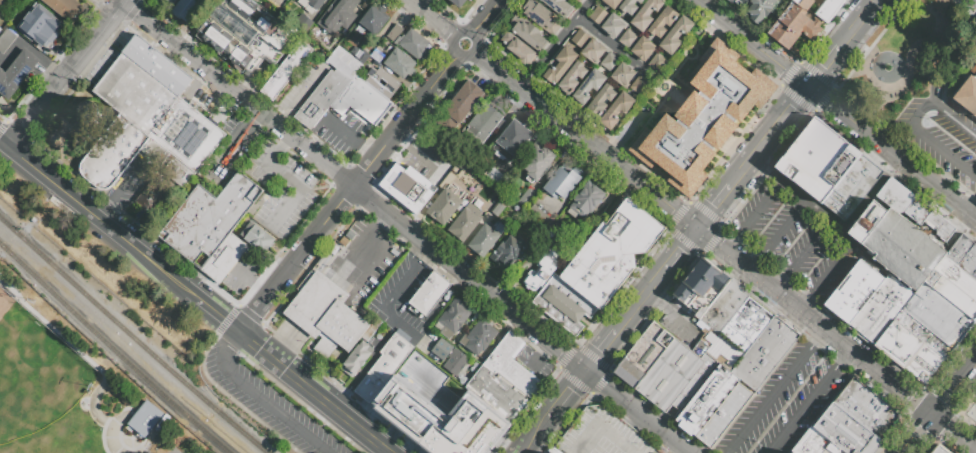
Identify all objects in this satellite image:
building: (286, 0)
road: (121, 1)
building: (577, 1)
building: (729, 1)
building: (166, 2)
building: (458, 2)
building: (740, 2)
road: (877, 2)
building: (315, 3)
building: (611, 3)
building: (803, 3)
building: (629, 6)
road: (102, 7)
building: (559, 7)
building: (66, 8)
building: (761, 9)
building: (828, 9)
building: (188, 10)
road: (933, 11)
building: (645, 14)
building: (597, 15)
building: (338, 16)
road: (484, 16)
building: (541, 16)
road: (432, 17)
road: (864, 18)
building: (374, 21)
building: (662, 21)
building: (801, 22)
building: (613, 25)
building: (36, 31)
building: (239, 31)
building: (315, 31)
building: (529, 35)
building: (675, 35)
building: (787, 36)
road: (93, 37)
building: (580, 38)
building: (627, 38)
road: (847, 41)
building: (9, 42)
building: (410, 42)
road: (917, 42)
road: (753, 44)
road: (557, 45)
road: (613, 47)
building: (135, 48)
building: (518, 48)
building: (643, 48)
building: (594, 50)
road: (468, 52)
building: (376, 54)
park: (907, 57)
building: (150, 60)
building: (608, 61)
building: (343, 62)
building: (656, 62)
building: (399, 63)
building: (560, 64)
road: (825, 69)
building: (20, 70)
building: (286, 70)
building: (623, 73)
building: (572, 76)
building: (172, 77)
road: (870, 80)
building: (383, 81)
building: (3, 84)
building: (639, 84)
building: (587, 86)
parking lot: (304, 88)
building: (473, 89)
traffic signals: (810, 89)
building: (967, 92)
building: (134, 93)
road: (305, 93)
road: (44, 98)
building: (321, 98)
building: (465, 98)
building: (361, 100)
building: (601, 100)
road: (234, 103)
parking lot: (207, 106)
building: (457, 108)
building: (616, 108)
water tower: (86, 112)
road: (942, 114)
building: (450, 117)
road: (210, 118)
road: (404, 118)
building: (703, 118)
road: (255, 120)
road: (282, 122)
road: (783, 123)
building: (482, 125)
park: (77, 129)
road: (905, 131)
road: (342, 133)
building: (186, 134)
road: (13, 135)
parking lot: (342, 135)
parking lot: (942, 136)
building: (511, 139)
road: (402, 140)
road: (585, 140)
road: (895, 142)
road: (2, 143)
road: (236, 144)
road: (284, 144)
parking lot: (231, 151)
road: (366, 151)
building: (112, 152)
road: (942, 153)
road: (893, 154)
parking lot: (430, 159)
building: (817, 159)
road: (427, 160)
building: (537, 163)
building: (176, 170)
road: (135, 174)
building: (495, 177)
building: (560, 183)
road: (353, 184)
parking lot: (141, 186)
building: (407, 186)
building: (852, 187)
road: (299, 188)
parking lot: (280, 190)
road: (64, 192)
road: (727, 193)
building: (239, 194)
building: (526, 196)
building: (894, 196)
building: (585, 200)
building: (908, 205)
building: (444, 206)
building: (913, 207)
building: (498, 211)
road: (973, 212)
road: (106, 214)
building: (922, 214)
road: (755, 216)
building: (466, 221)
road: (836, 221)
building: (200, 225)
building: (941, 228)
traffic signals: (699, 230)
road: (778, 234)
building: (257, 237)
building: (483, 240)
parking lot: (797, 241)
building: (966, 245)
building: (507, 252)
building: (610, 253)
road: (803, 254)
building: (973, 254)
road: (426, 255)
building: (914, 257)
building: (224, 258)
road: (296, 259)
parking lot: (366, 261)
road: (672, 262)
building: (963, 262)
road: (160, 270)
road: (833, 270)
building: (540, 271)
building: (710, 274)
road: (251, 281)
building: (846, 286)
building: (691, 288)
building: (854, 292)
building: (428, 293)
road: (397, 295)
parking lot: (401, 297)
building: (864, 300)
road: (656, 302)
building: (563, 305)
building: (878, 305)
building: (724, 306)
road: (442, 307)
building: (942, 314)
building: (890, 316)
road: (217, 317)
building: (326, 317)
building: (452, 318)
road: (815, 322)
road: (683, 324)
building: (745, 326)
parking lot: (680, 328)
road: (407, 331)
road: (615, 331)
building: (926, 333)
railway: (131, 337)
building: (477, 337)
building: (893, 339)
road: (233, 340)
flagpole: (310, 342)
road: (286, 344)
building: (907, 350)
railway: (112, 351)
building: (765, 352)
building: (643, 355)
building: (449, 356)
road: (540, 356)
building: (932, 356)
building: (357, 358)
building: (927, 364)
road: (365, 365)
building: (388, 365)
building: (513, 365)
traffic signals: (586, 368)
park: (35, 371)
building: (920, 372)
building: (669, 375)
park: (65, 383)
road: (953, 386)
road: (308, 388)
road: (774, 391)
building: (498, 392)
road: (566, 392)
building: (702, 395)
parking lot: (789, 402)
road: (812, 402)
road: (268, 404)
parking lot: (269, 405)
building: (866, 408)
road: (639, 410)
park: (967, 410)
building: (723, 415)
traffic signals: (932, 415)
building: (147, 419)
building: (440, 419)
building: (848, 431)
road: (533, 433)
road: (916, 433)
road: (953, 433)
parking lot: (604, 434)
building: (602, 435)
building: (832, 439)
building: (824, 441)
building: (813, 445)
road: (383, 448)
building: (801, 449)
building: (939, 449)
road: (519, 451)
parking lot: (665, 452)
building: (792, 452)

